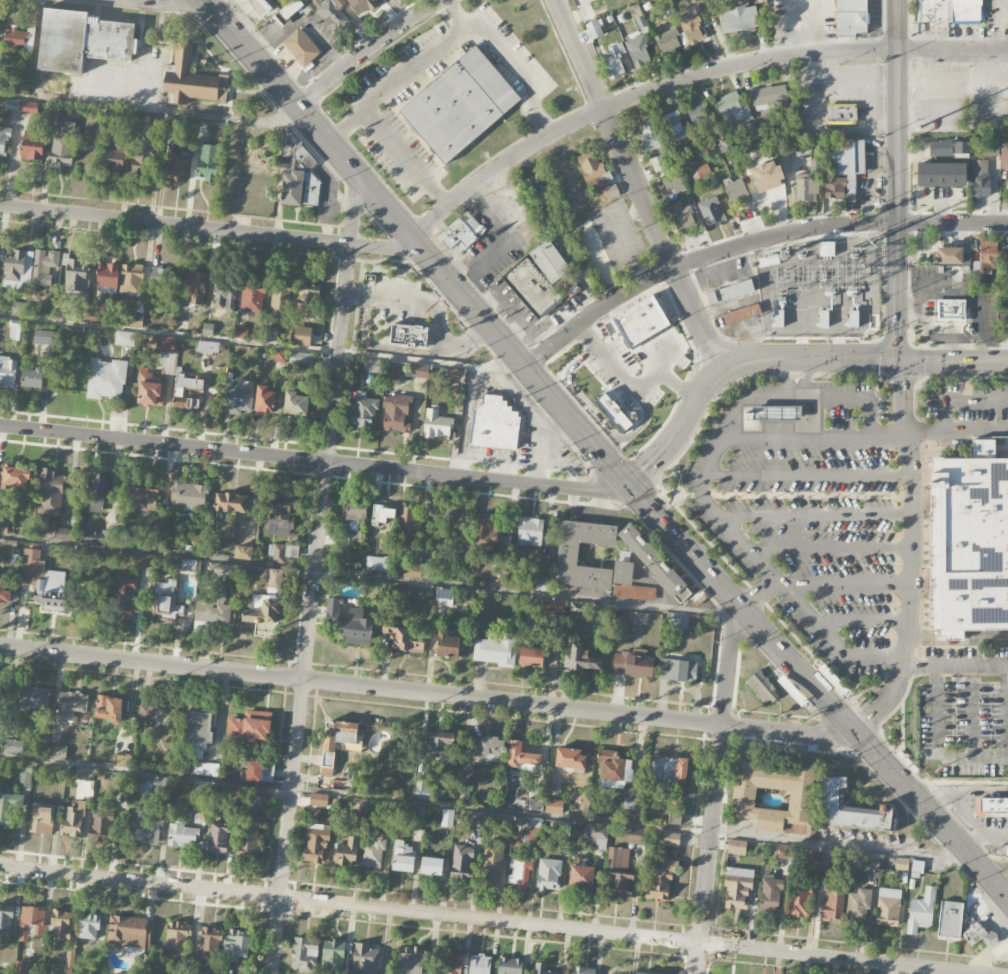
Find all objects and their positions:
road: (168, 4)
building: (362, 6)
traffic signals: (207, 8)
building: (292, 10)
building: (951, 10)
building: (331, 13)
road: (455, 14)
building: (850, 16)
building: (738, 18)
building: (691, 28)
building: (594, 29)
power tower: (910, 36)
road: (452, 37)
building: (667, 39)
building: (82, 40)
building: (15, 41)
building: (301, 47)
road: (368, 50)
building: (638, 50)
building: (614, 61)
building: (23, 75)
road: (688, 77)
building: (191, 79)
building: (769, 97)
building: (11, 105)
building: (459, 105)
building: (28, 108)
building: (732, 108)
road: (151, 111)
building: (841, 113)
building: (701, 117)
power tower: (919, 128)
building: (675, 130)
building: (649, 135)
building: (3, 141)
building: (63, 144)
building: (948, 147)
building: (31, 148)
building: (985, 148)
building: (1004, 153)
building: (143, 157)
road: (407, 158)
building: (113, 160)
building: (207, 161)
building: (847, 162)
building: (176, 165)
building: (591, 165)
building: (659, 166)
building: (700, 171)
building: (941, 174)
building: (766, 176)
building: (980, 178)
road: (896, 180)
building: (674, 184)
road: (638, 185)
building: (806, 187)
building: (835, 187)
building: (292, 188)
building: (611, 191)
building: (736, 192)
building: (309, 198)
road: (354, 210)
building: (711, 211)
building: (683, 218)
road: (211, 229)
road: (859, 230)
building: (460, 234)
road: (414, 239)
road: (499, 241)
road: (748, 242)
power tower: (871, 243)
power tower: (855, 246)
power tower: (801, 248)
building: (826, 249)
building: (594, 250)
building: (948, 255)
building: (987, 255)
building: (771, 260)
building: (1006, 260)
building: (45, 268)
building: (17, 269)
building: (555, 269)
building: (75, 275)
building: (106, 276)
building: (131, 278)
building: (162, 279)
building: (195, 288)
building: (532, 288)
power substation: (821, 288)
building: (730, 292)
building: (224, 295)
building: (251, 299)
building: (280, 300)
building: (307, 303)
building: (949, 310)
road: (432, 311)
building: (799, 311)
building: (95, 313)
building: (841, 314)
building: (737, 315)
building: (641, 321)
building: (1003, 325)
building: (16, 332)
building: (270, 334)
building: (408, 335)
building: (302, 336)
building: (42, 337)
building: (124, 338)
building: (159, 343)
road: (263, 345)
building: (206, 346)
road: (382, 346)
road: (826, 347)
road: (859, 348)
building: (300, 359)
road: (660, 359)
road: (789, 359)
traffic signals: (901, 361)
building: (370, 367)
building: (7, 372)
building: (454, 374)
building: (419, 375)
road: (808, 375)
building: (30, 377)
road: (786, 377)
building: (106, 379)
road: (630, 380)
building: (148, 388)
building: (186, 390)
road: (804, 397)
building: (238, 399)
building: (264, 399)
road: (524, 402)
building: (295, 403)
road: (961, 403)
building: (363, 412)
building: (396, 412)
building: (613, 412)
building: (777, 413)
gas station: (777, 413)
road: (599, 417)
building: (752, 417)
road: (811, 417)
road: (466, 421)
building: (436, 424)
building: (493, 424)
road: (864, 438)
road: (544, 446)
road: (313, 459)
road: (808, 475)
building: (14, 477)
traffic signals: (626, 482)
building: (50, 493)
building: (95, 493)
road: (776, 494)
building: (188, 495)
building: (143, 499)
building: (230, 502)
building: (356, 511)
building: (282, 515)
building: (382, 515)
road: (815, 516)
building: (3, 523)
building: (47, 529)
building: (355, 530)
building: (530, 531)
building: (485, 532)
parking lot: (856, 537)
building: (971, 542)
building: (409, 544)
road: (684, 546)
road: (830, 548)
building: (276, 552)
building: (243, 553)
road: (913, 556)
building: (567, 561)
building: (376, 563)
building: (654, 563)
building: (32, 566)
road: (771, 574)
road: (367, 577)
building: (275, 579)
building: (543, 584)
road: (821, 584)
building: (4, 591)
building: (54, 591)
building: (444, 594)
building: (122, 600)
building: (167, 603)
building: (551, 606)
road: (311, 609)
building: (332, 610)
building: (214, 613)
building: (262, 614)
building: (679, 621)
road: (861, 621)
building: (357, 628)
road: (957, 635)
building: (403, 639)
building: (447, 644)
road: (773, 645)
building: (496, 648)
building: (534, 656)
building: (581, 658)
building: (633, 664)
road: (955, 665)
road: (729, 666)
building: (677, 670)
road: (362, 685)
building: (762, 687)
building: (33, 698)
road: (828, 703)
building: (70, 705)
building: (107, 708)
road: (972, 711)
building: (249, 727)
traffic signals: (852, 729)
building: (198, 730)
road: (788, 732)
building: (337, 741)
building: (439, 741)
building: (13, 745)
road: (937, 747)
building: (57, 751)
building: (481, 753)
building: (522, 755)
building: (569, 758)
building: (206, 769)
building: (613, 769)
building: (254, 771)
building: (24, 773)
building: (667, 773)
road: (959, 782)
building: (162, 783)
building: (202, 788)
building: (422, 788)
building: (259, 793)
road: (965, 793)
building: (743, 798)
building: (318, 799)
building: (534, 805)
building: (554, 806)
building: (993, 807)
building: (9, 808)
building: (359, 809)
building: (851, 809)
road: (482, 810)
building: (631, 810)
road: (930, 813)
road: (969, 814)
building: (418, 815)
building: (674, 817)
building: (41, 818)
building: (447, 818)
building: (475, 820)
building: (72, 821)
building: (100, 827)
building: (143, 827)
building: (181, 833)
building: (533, 835)
building: (250, 836)
road: (984, 836)
building: (599, 837)
building: (218, 838)
building: (639, 839)
building: (670, 839)
building: (316, 843)
building: (737, 848)
road: (709, 849)
building: (783, 852)
building: (346, 853)
building: (373, 854)
building: (817, 856)
building: (402, 857)
building: (826, 858)
building: (462, 861)
building: (491, 863)
building: (869, 863)
building: (902, 864)
building: (431, 866)
building: (917, 869)
road: (995, 870)
building: (519, 872)
building: (618, 872)
building: (548, 874)
building: (581, 876)
building: (738, 888)
building: (770, 894)
building: (800, 900)
building: (859, 902)
building: (832, 905)
building: (888, 907)
building: (921, 911)
road: (494, 919)
building: (950, 920)
building: (5, 922)
building: (44, 924)
building: (90, 926)
building: (129, 931)
building: (979, 935)
building: (177, 939)
building: (236, 945)
building: (209, 947)
building: (304, 954)
building: (332, 956)
building: (364, 959)
building: (411, 960)
building: (451, 963)
building: (479, 964)
building: (509, 966)
building: (22, 967)
building: (541, 969)
building: (582, 970)
building: (128, 973)
building: (640, 973)

